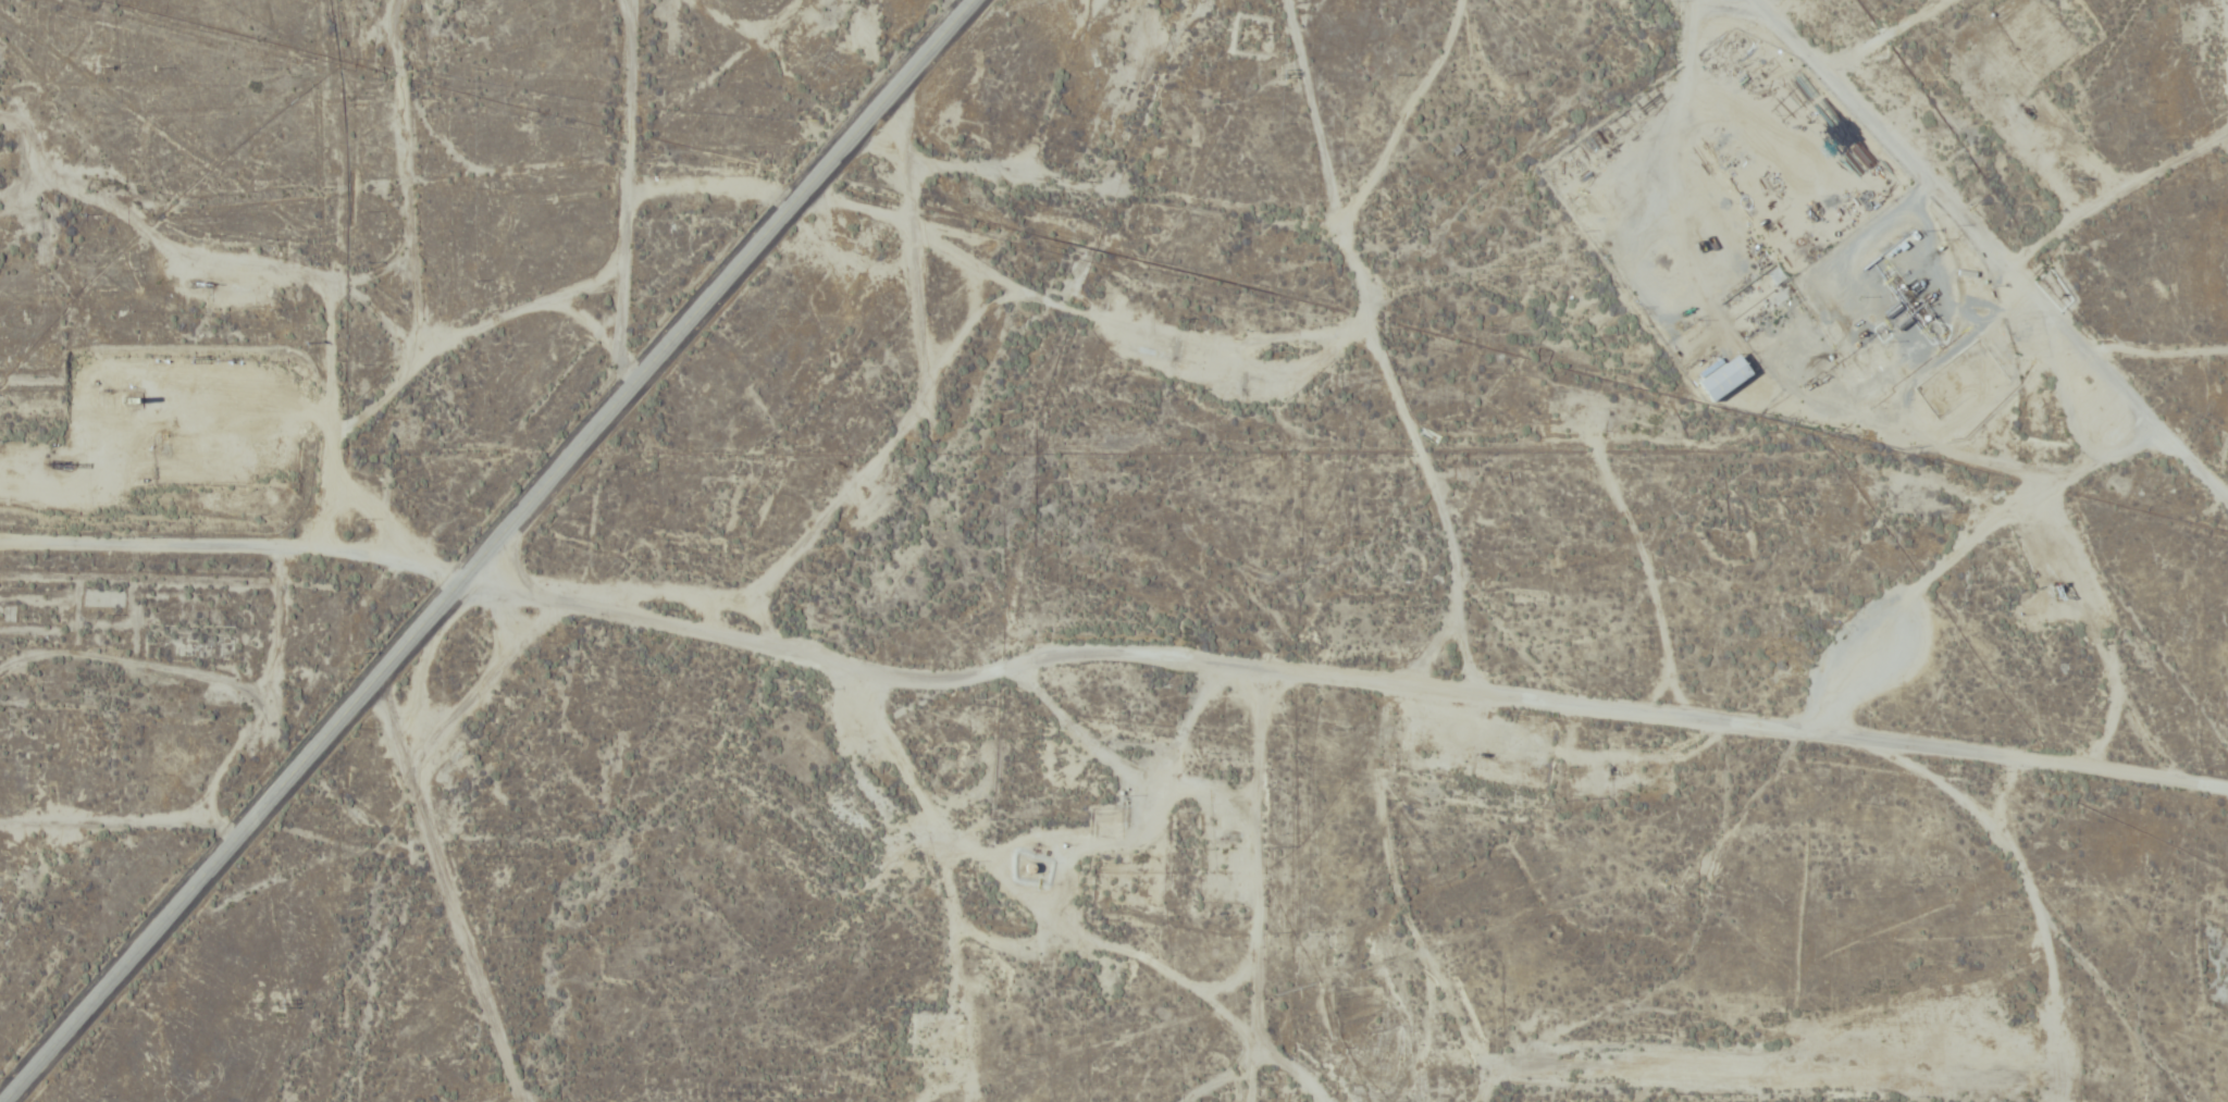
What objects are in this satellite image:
road: (961, 3)
road: (627, 179)
road: (1983, 262)
road: (1373, 361)
building: (1721, 379)
road: (487, 550)
road: (1340, 677)

